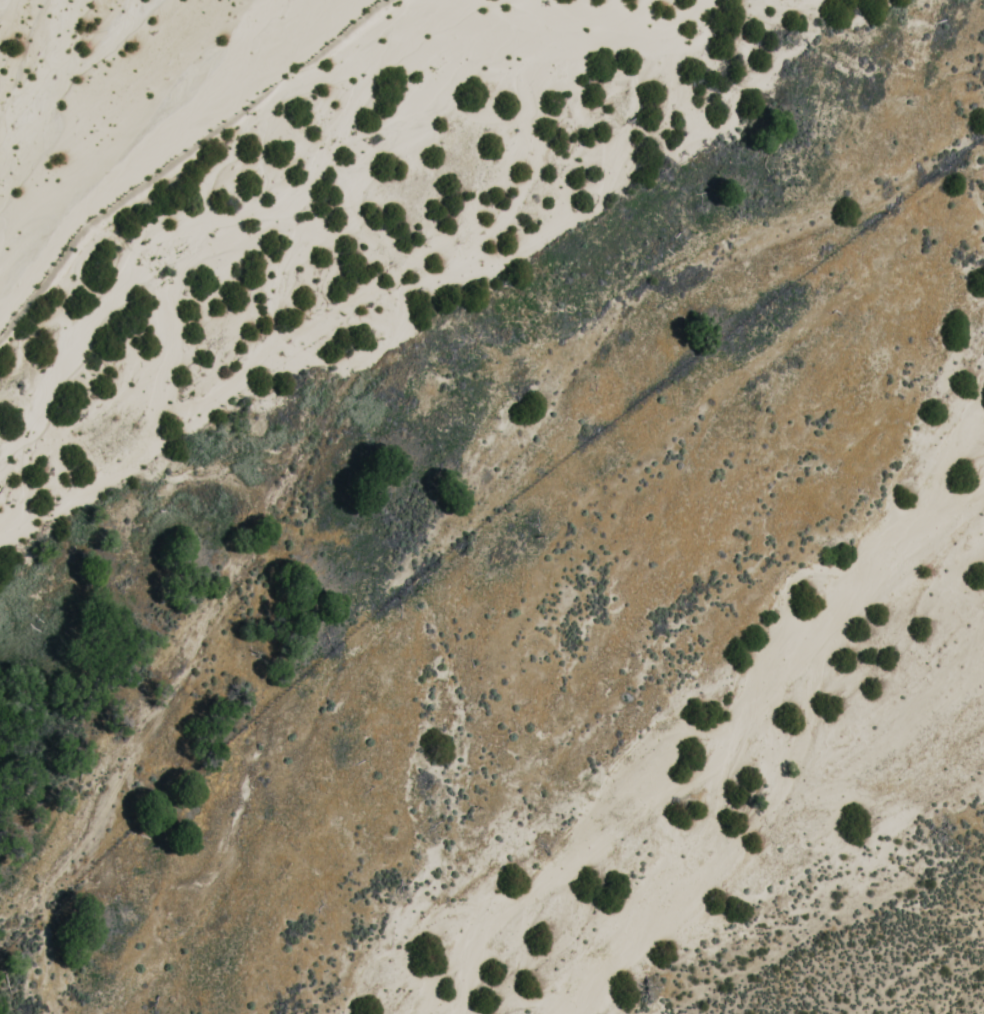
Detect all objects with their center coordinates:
river: (373, 322)

